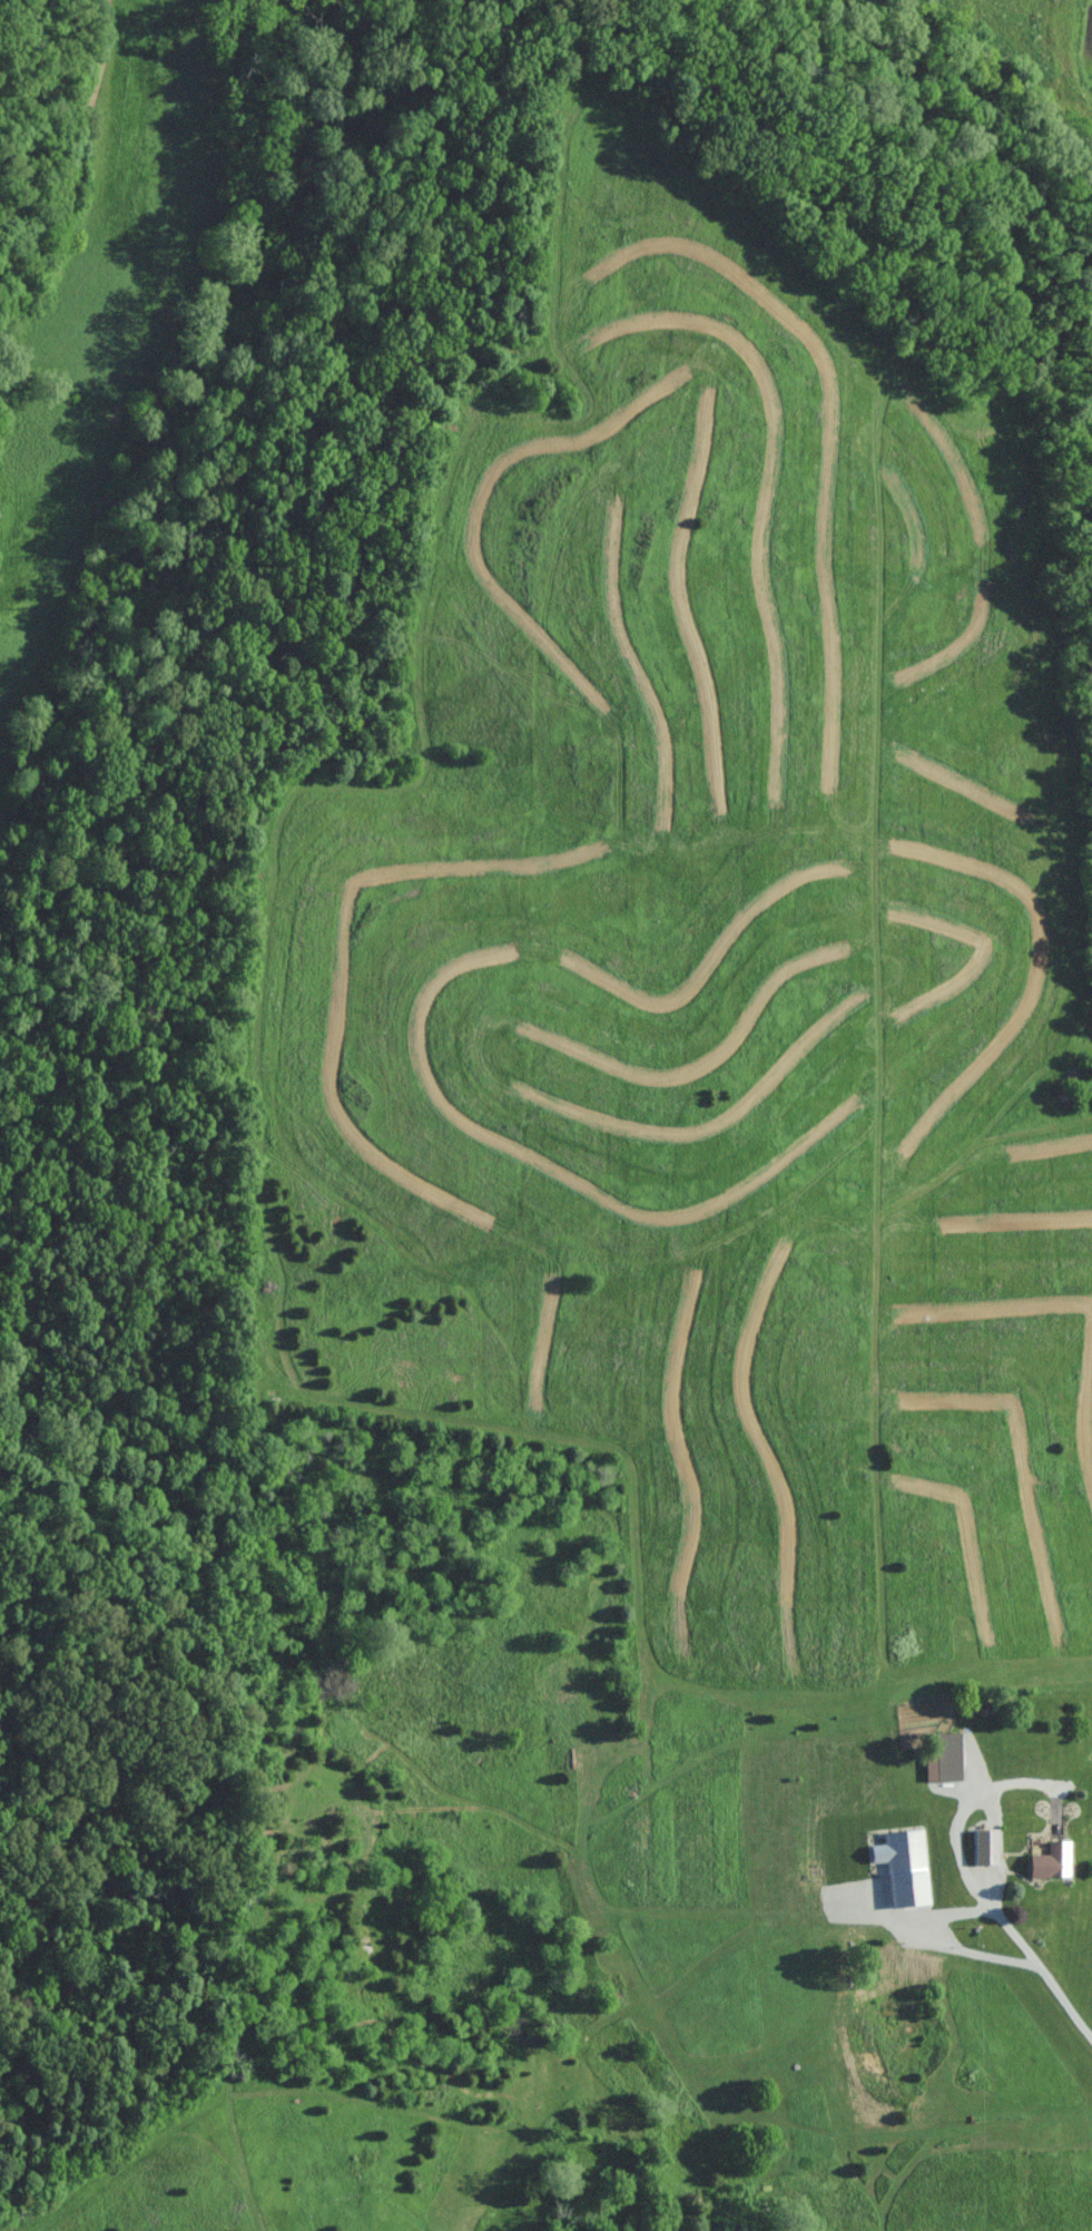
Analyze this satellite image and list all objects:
building: (948, 1751)
building: (985, 1847)
building: (1051, 1862)
road: (1014, 1931)
road: (939, 1946)

